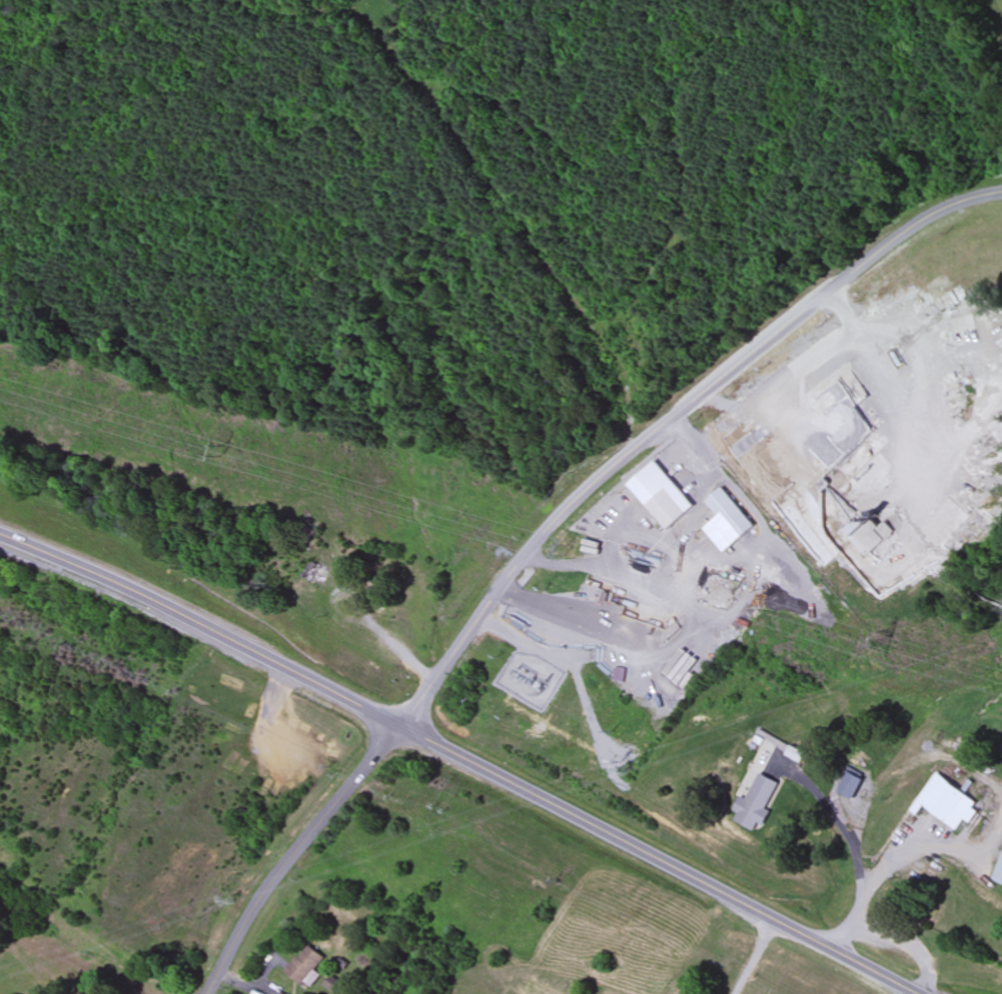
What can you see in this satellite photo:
road: (668, 422)
power tower: (228, 452)
building: (666, 510)
building: (731, 515)
power tower: (566, 550)
building: (314, 574)
building: (379, 606)
power tower: (881, 643)
building: (945, 745)
road: (461, 758)
building: (851, 792)
building: (948, 803)
road: (292, 852)
building: (999, 877)
building: (305, 967)
building: (254, 993)
building: (279, 993)

